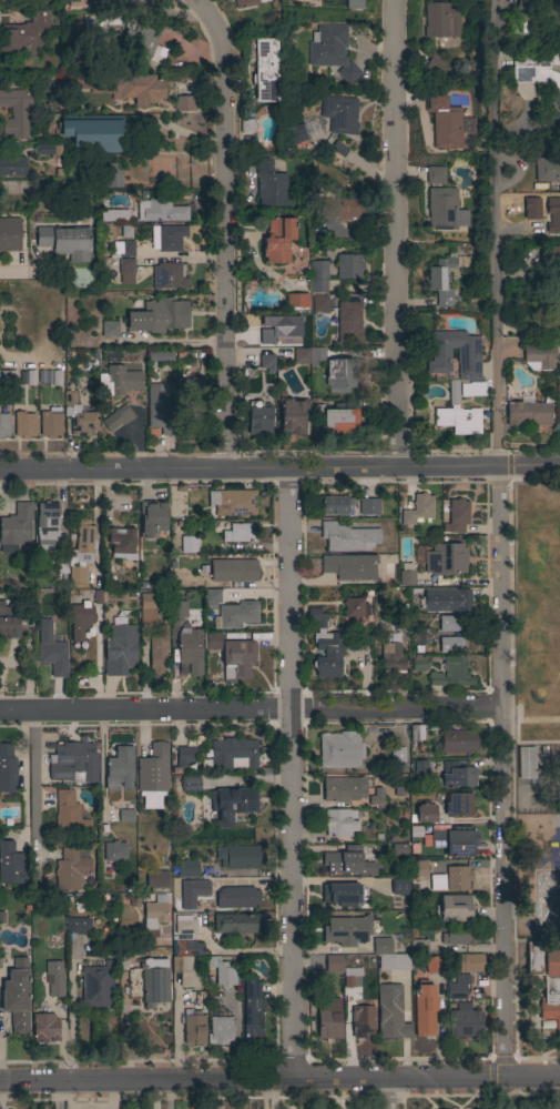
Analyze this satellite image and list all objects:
building: (122, 0)
building: (75, 3)
building: (245, 3)
building: (353, 3)
building: (440, 18)
building: (520, 18)
building: (88, 24)
building: (24, 34)
building: (141, 40)
building: (330, 51)
building: (554, 59)
building: (435, 64)
building: (533, 70)
building: (265, 71)
building: (118, 87)
building: (183, 103)
building: (16, 112)
building: (339, 114)
building: (444, 122)
building: (246, 124)
building: (466, 125)
building: (306, 129)
building: (94, 132)
building: (296, 133)
building: (336, 150)
building: (12, 167)
building: (547, 170)
road: (523, 172)
building: (110, 175)
building: (435, 175)
building: (271, 184)
building: (344, 209)
building: (442, 209)
building: (159, 212)
building: (118, 215)
building: (553, 216)
road: (228, 229)
road: (498, 233)
building: (9, 234)
road: (395, 234)
building: (167, 238)
building: (277, 240)
building: (65, 241)
building: (123, 248)
building: (550, 256)
building: (126, 266)
building: (348, 266)
road: (30, 269)
building: (167, 276)
building: (318, 276)
building: (440, 281)
building: (297, 300)
building: (556, 303)
building: (319, 304)
building: (160, 317)
building: (349, 322)
building: (109, 330)
building: (269, 330)
road: (529, 341)
building: (468, 354)
building: (160, 355)
building: (301, 355)
building: (539, 359)
building: (266, 362)
building: (334, 371)
building: (7, 379)
building: (27, 379)
building: (119, 381)
building: (472, 389)
building: (192, 405)
building: (160, 407)
building: (559, 410)
building: (530, 413)
building: (78, 415)
building: (457, 415)
building: (293, 416)
building: (335, 417)
building: (116, 419)
building: (258, 419)
building: (50, 424)
building: (3, 425)
building: (24, 425)
road: (279, 468)
building: (232, 503)
building: (337, 505)
building: (368, 506)
building: (417, 510)
building: (456, 516)
building: (151, 518)
building: (47, 524)
building: (16, 527)
building: (237, 533)
building: (347, 537)
building: (122, 544)
building: (189, 545)
building: (80, 554)
building: (445, 559)
building: (61, 566)
building: (349, 566)
building: (233, 571)
building: (406, 577)
building: (196, 597)
building: (212, 597)
building: (447, 599)
building: (152, 601)
building: (176, 604)
building: (354, 607)
building: (235, 615)
building: (79, 621)
building: (10, 623)
building: (448, 624)
building: (417, 635)
building: (189, 643)
building: (449, 644)
building: (120, 647)
building: (324, 647)
building: (390, 653)
building: (156, 654)
building: (231, 655)
building: (53, 657)
building: (415, 665)
building: (450, 674)
road: (250, 710)
building: (415, 733)
building: (457, 742)
building: (339, 750)
building: (232, 754)
building: (396, 755)
building: (183, 758)
building: (73, 763)
building: (525, 764)
building: (419, 767)
road: (103, 768)
building: (7, 769)
building: (119, 769)
road: (501, 773)
road: (292, 774)
building: (457, 775)
road: (34, 776)
building: (152, 776)
building: (190, 784)
building: (342, 789)
building: (376, 798)
building: (232, 804)
building: (458, 805)
building: (425, 814)
building: (69, 816)
building: (125, 816)
building: (338, 823)
building: (452, 841)
building: (114, 851)
building: (237, 857)
building: (348, 861)
building: (11, 865)
building: (186, 869)
building: (70, 870)
building: (418, 870)
building: (457, 878)
building: (155, 880)
building: (437, 883)
building: (195, 888)
building: (396, 888)
building: (340, 894)
building: (236, 898)
building: (394, 903)
building: (455, 908)
building: (153, 915)
building: (236, 924)
building: (78, 926)
building: (346, 930)
building: (184, 935)
building: (457, 936)
building: (381, 946)
building: (419, 947)
road: (243, 949)
building: (455, 949)
building: (394, 962)
building: (333, 964)
building: (468, 964)
building: (432, 965)
building: (185, 971)
building: (222, 972)
building: (350, 976)
building: (54, 978)
building: (546, 979)
building: (154, 980)
building: (96, 986)
building: (458, 987)
building: (17, 997)
building: (251, 1009)
building: (424, 1009)
building: (391, 1012)
building: (328, 1020)
building: (464, 1021)
building: (363, 1022)
road: (122, 1026)
building: (44, 1028)
building: (193, 1028)
building: (218, 1031)
road: (279, 1079)
road: (388, 1093)
road: (554, 1093)

